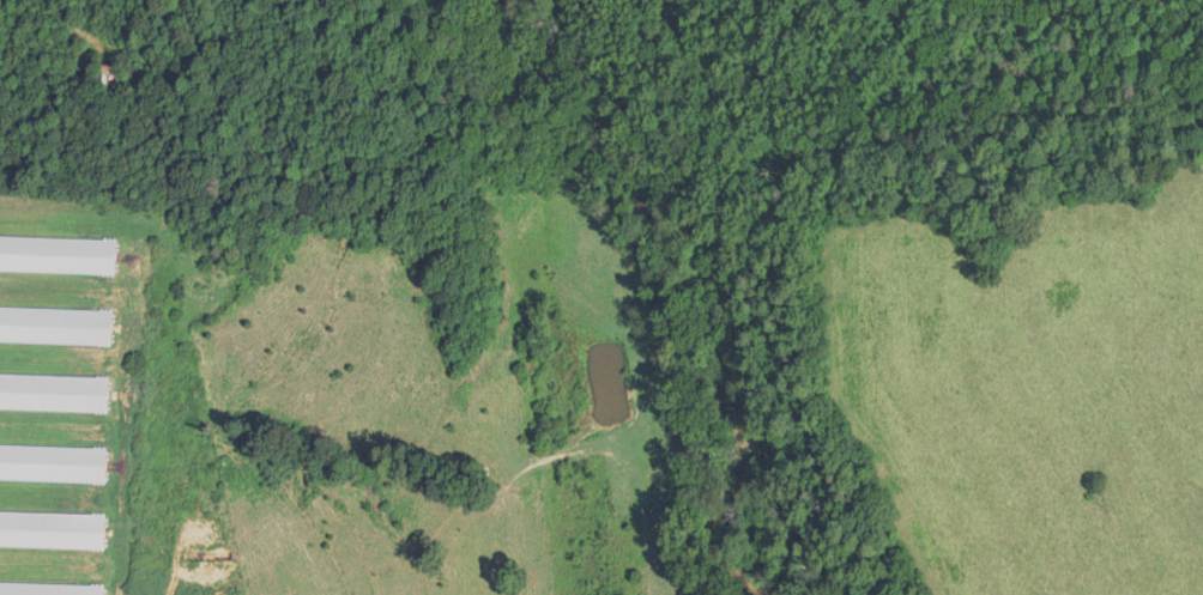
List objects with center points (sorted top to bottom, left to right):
road: (71, 20)
building: (109, 75)

